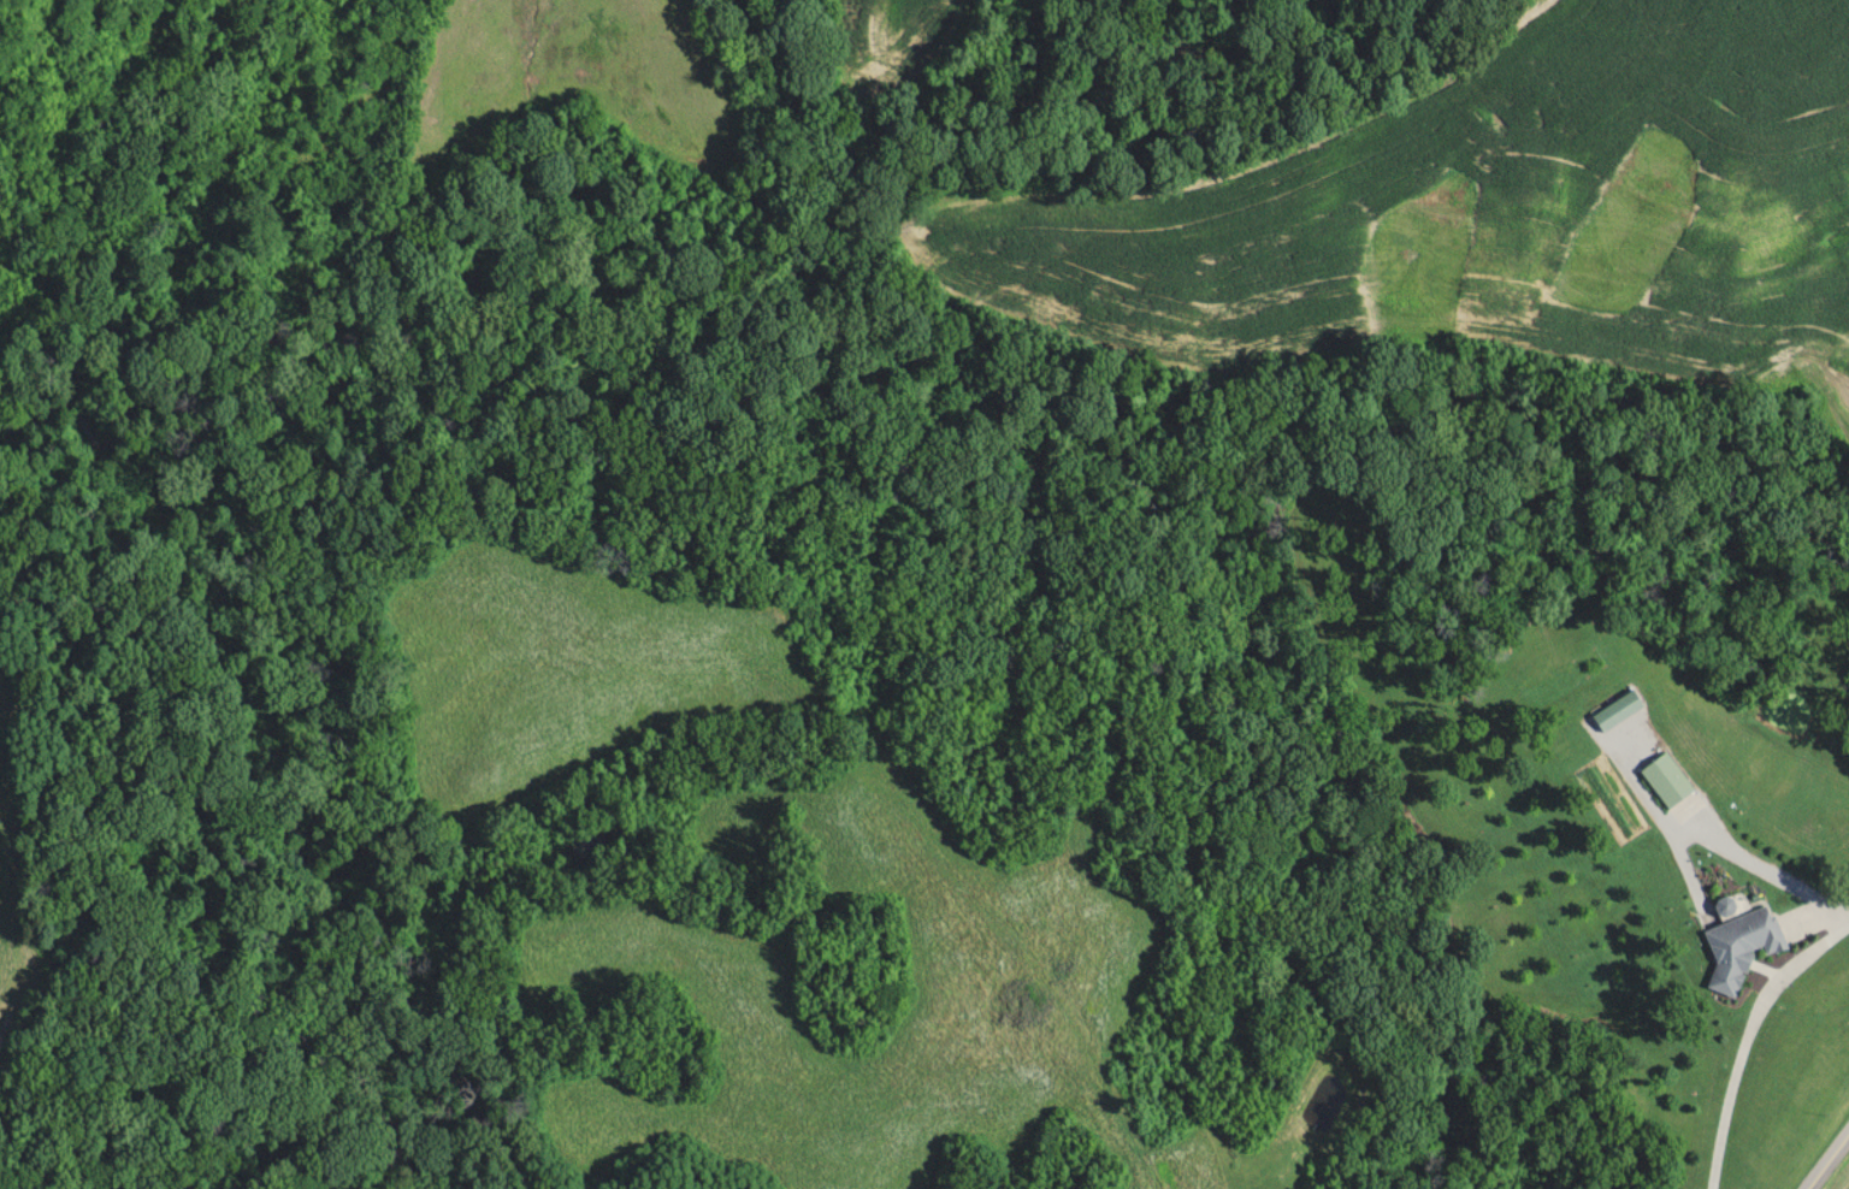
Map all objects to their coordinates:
building: (1621, 710)
building: (1671, 780)
building: (1744, 947)
road: (1748, 1039)
road: (1830, 1163)

